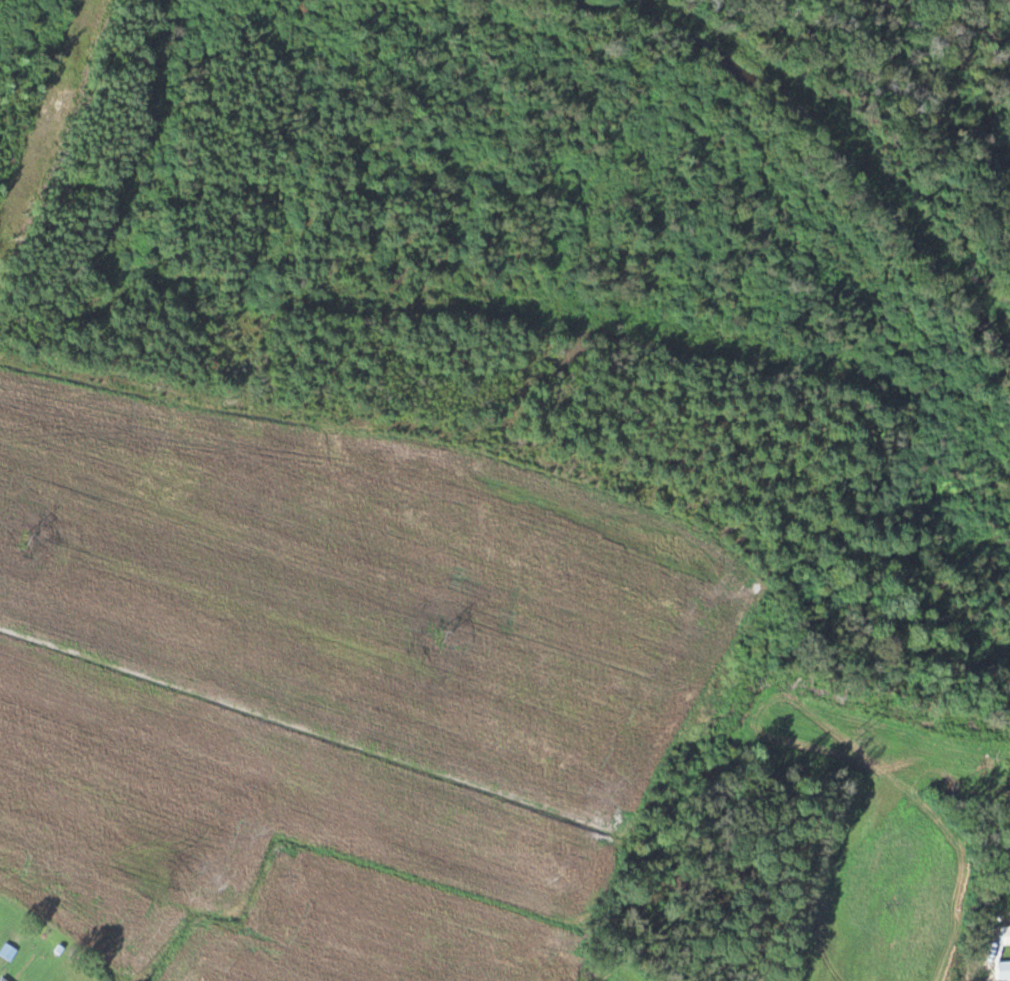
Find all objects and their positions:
power tower: (26, 538)
power tower: (441, 637)
power tower: (858, 733)
building: (1006, 935)
building: (1004, 970)
building: (5, 979)

